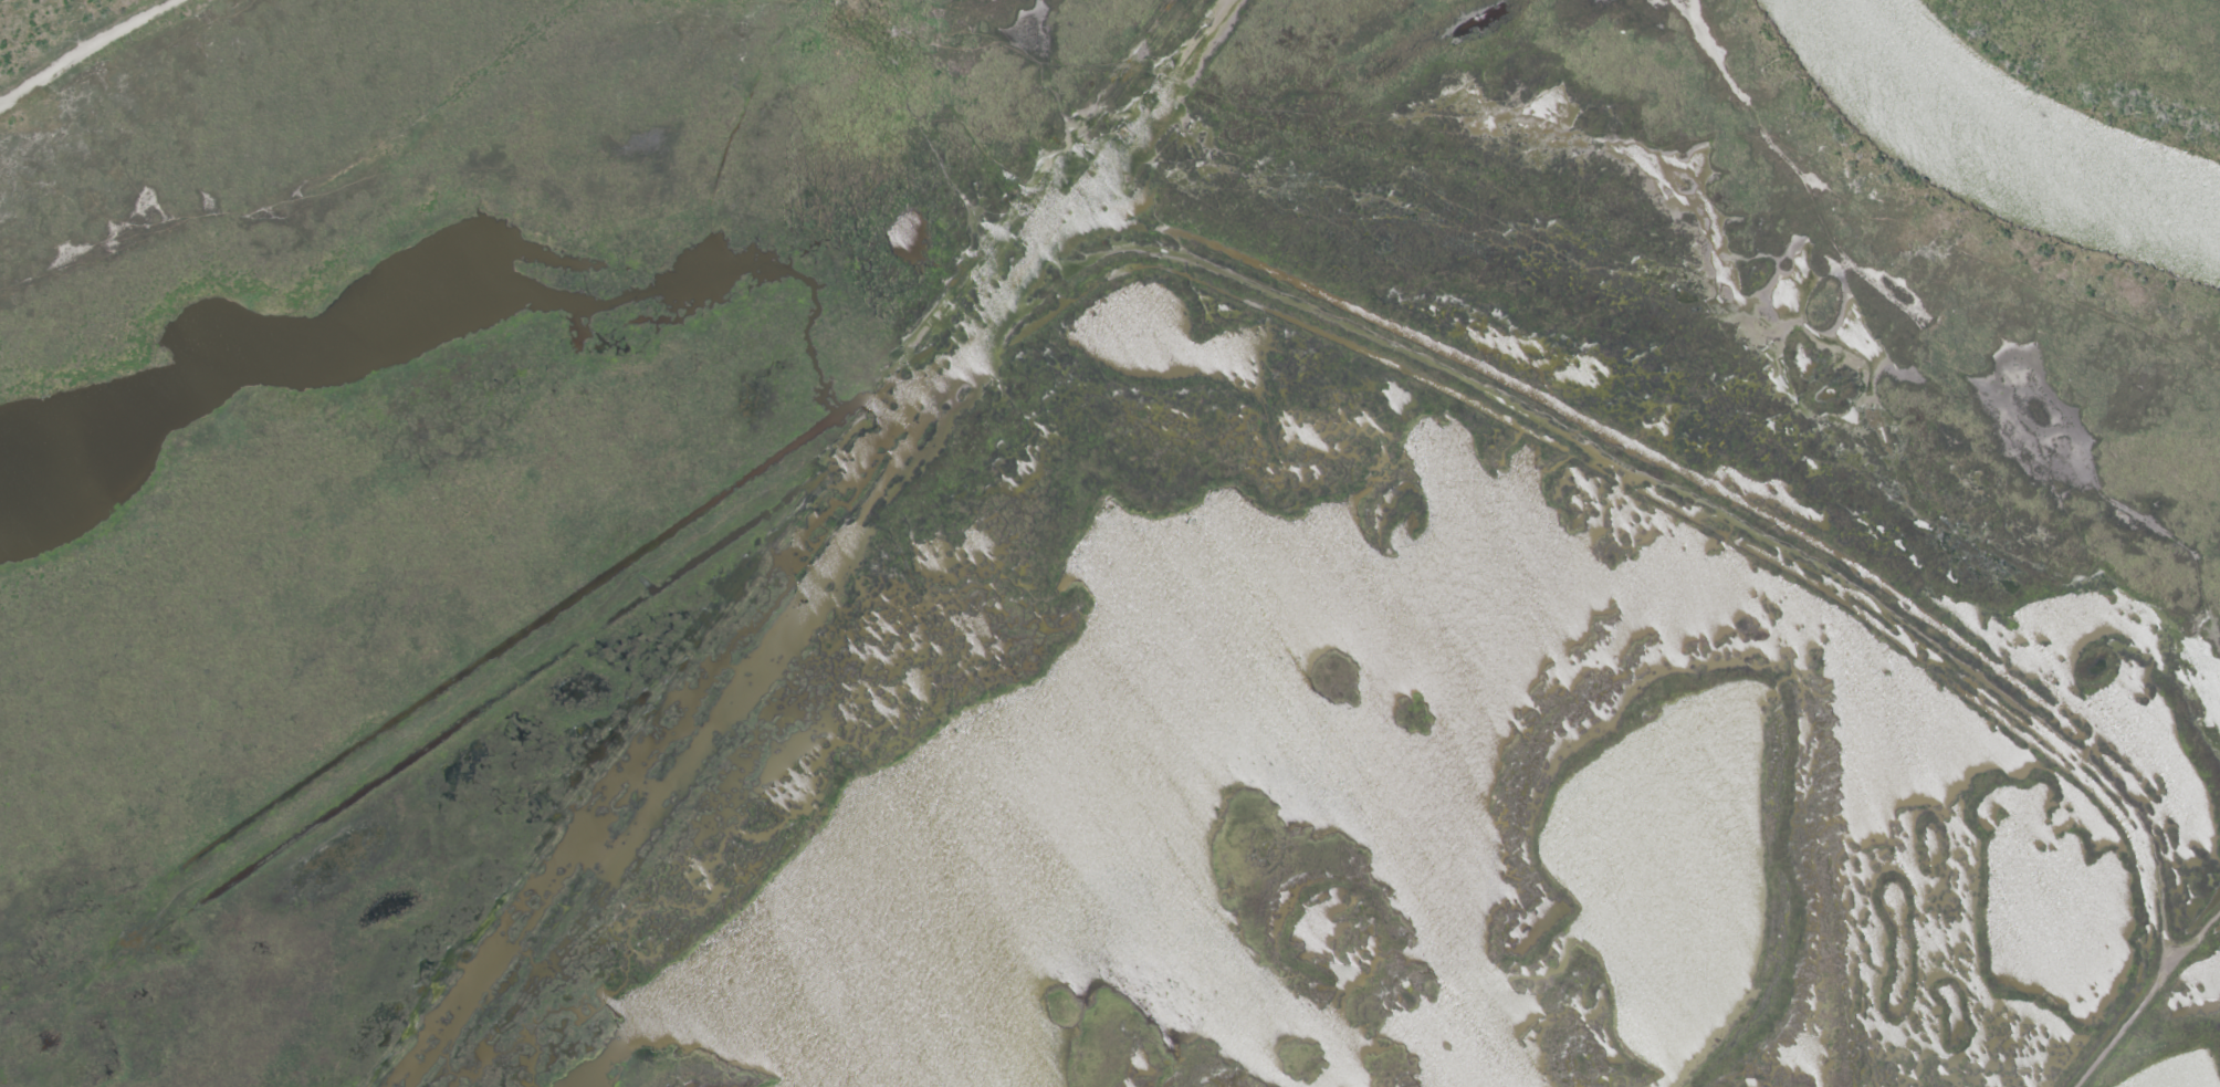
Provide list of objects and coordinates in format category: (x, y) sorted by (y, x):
river: (2006, 167)

